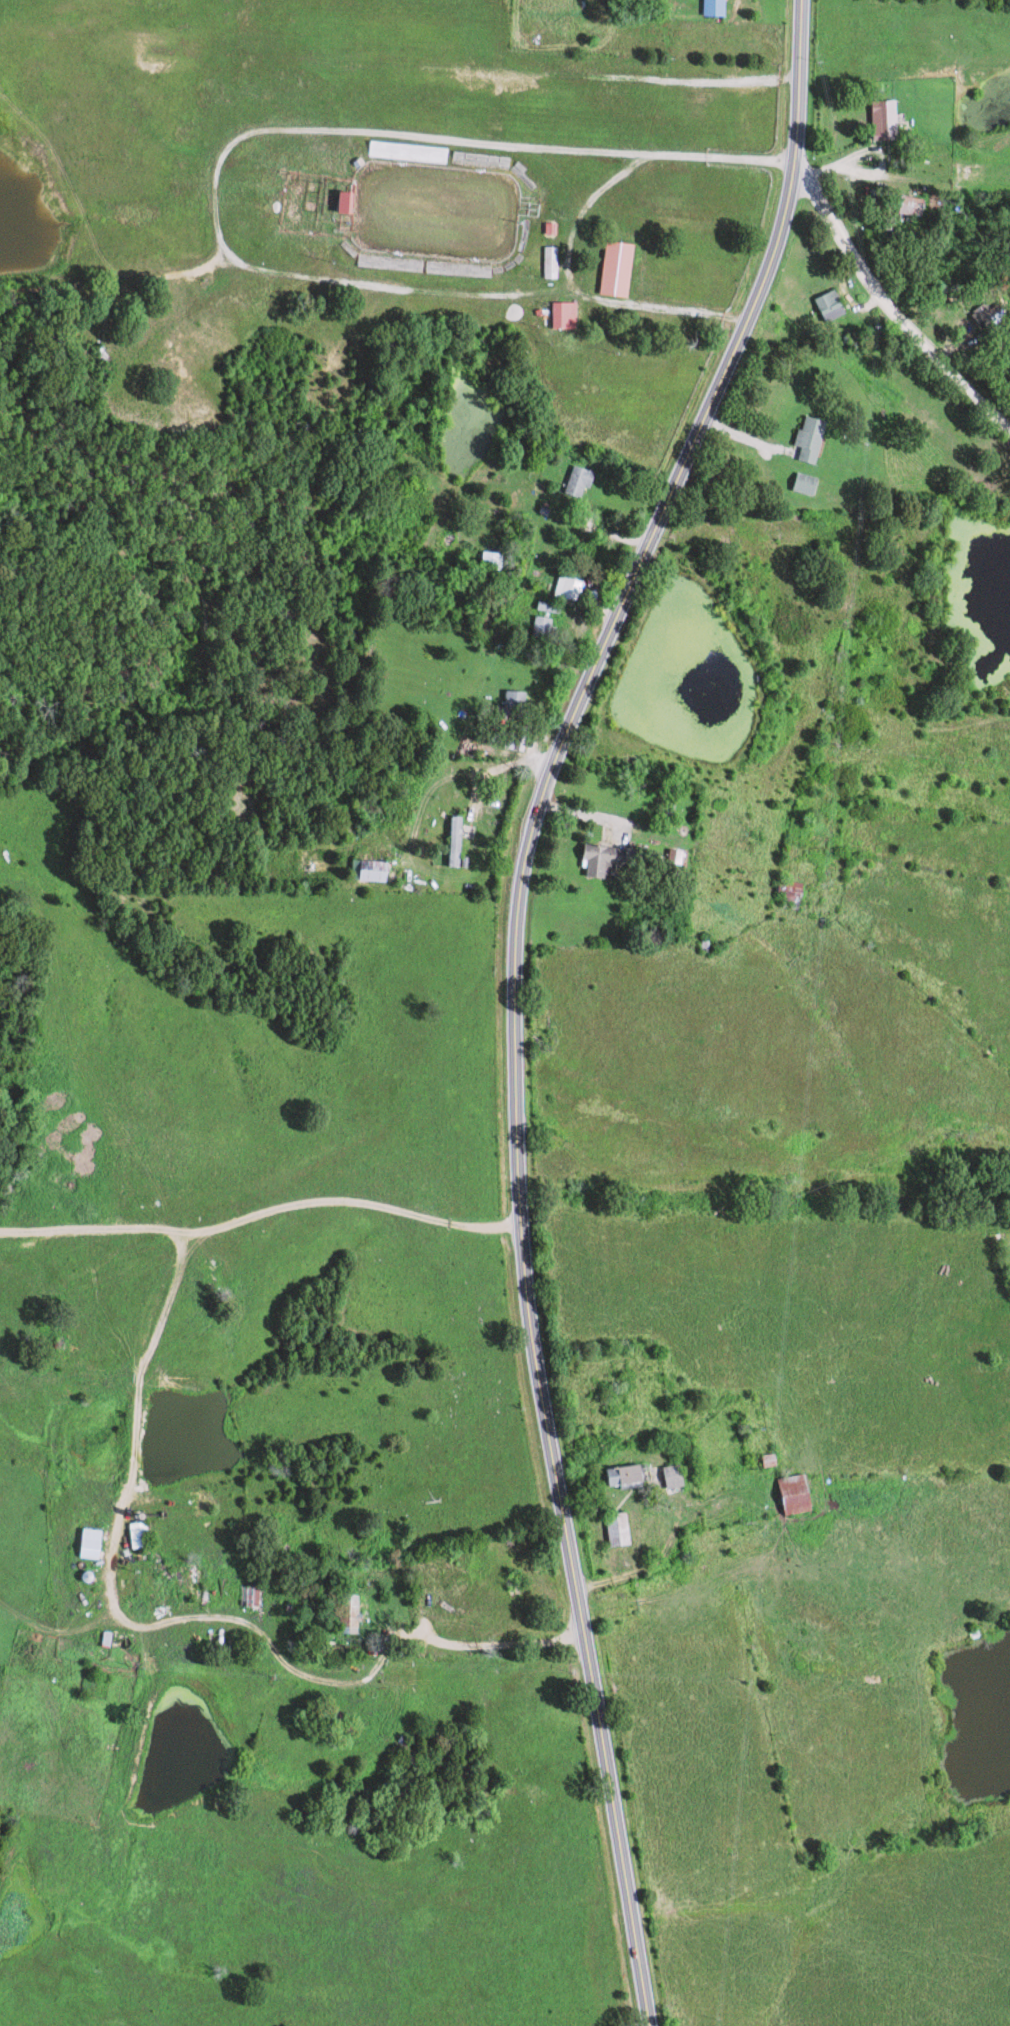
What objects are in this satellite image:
building: (721, 7)
building: (891, 120)
building: (354, 202)
building: (919, 205)
park: (431, 213)
building: (557, 228)
building: (556, 262)
building: (624, 269)
building: (837, 305)
road: (893, 305)
building: (570, 314)
building: (818, 438)
building: (585, 481)
building: (814, 483)
building: (571, 588)
building: (521, 703)
building: (609, 859)
building: (382, 871)
road: (513, 991)
building: (633, 1474)
building: (681, 1475)
building: (803, 1494)
building: (146, 1534)
building: (98, 1543)
building: (356, 1611)

